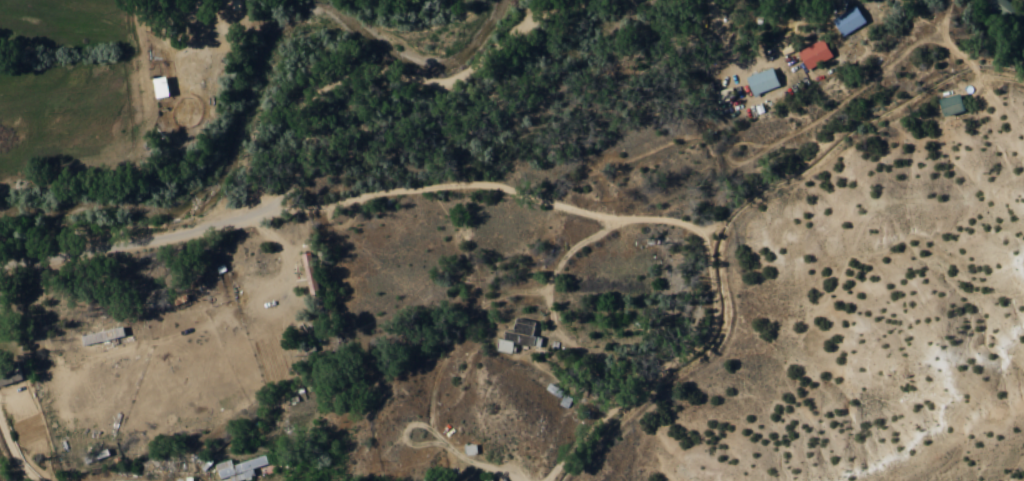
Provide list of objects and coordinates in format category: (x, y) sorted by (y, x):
building: (1000, 6)
building: (849, 19)
building: (816, 52)
river: (245, 69)
building: (763, 80)
building: (163, 85)
building: (954, 103)
road: (304, 149)
road: (655, 215)
building: (310, 271)
building: (518, 334)
building: (10, 372)
building: (471, 448)
road: (15, 455)
road: (484, 461)

